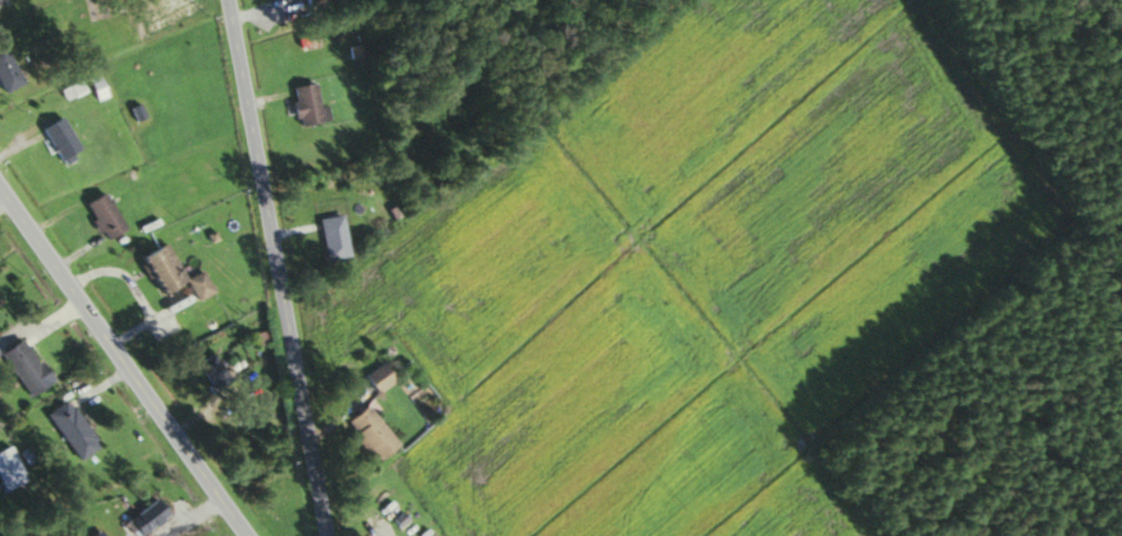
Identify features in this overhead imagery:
building: (105, 7)
building: (6, 75)
building: (304, 106)
building: (57, 139)
building: (100, 216)
building: (330, 238)
building: (156, 267)
road: (275, 267)
building: (196, 285)
road: (121, 365)
building: (21, 367)
building: (209, 374)
building: (69, 429)
building: (367, 433)
building: (8, 470)
building: (149, 514)

